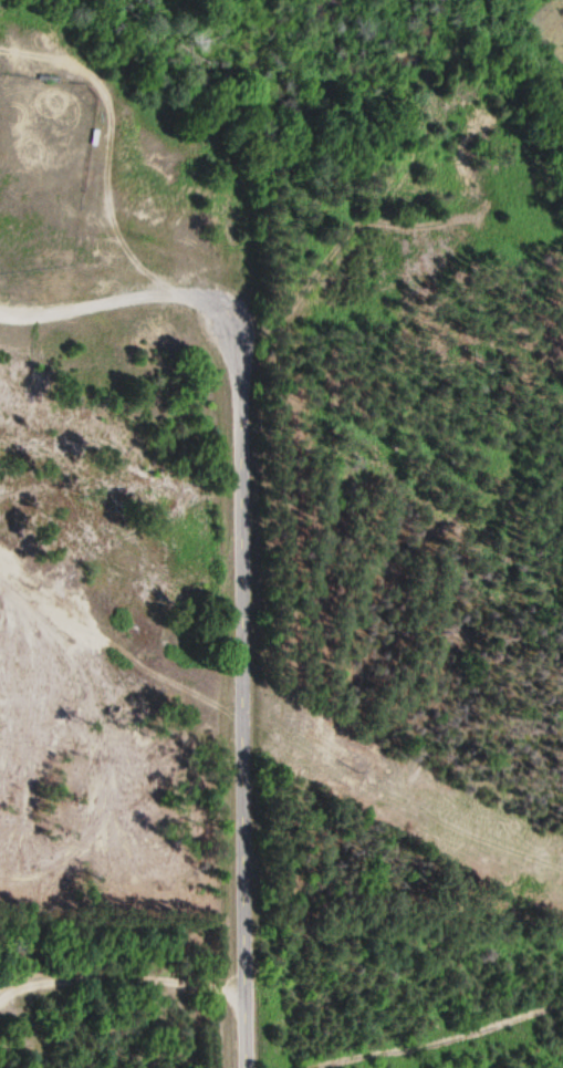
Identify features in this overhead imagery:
road: (114, 139)
park: (40, 170)
road: (117, 299)
park: (110, 470)
road: (119, 650)
road: (242, 689)

